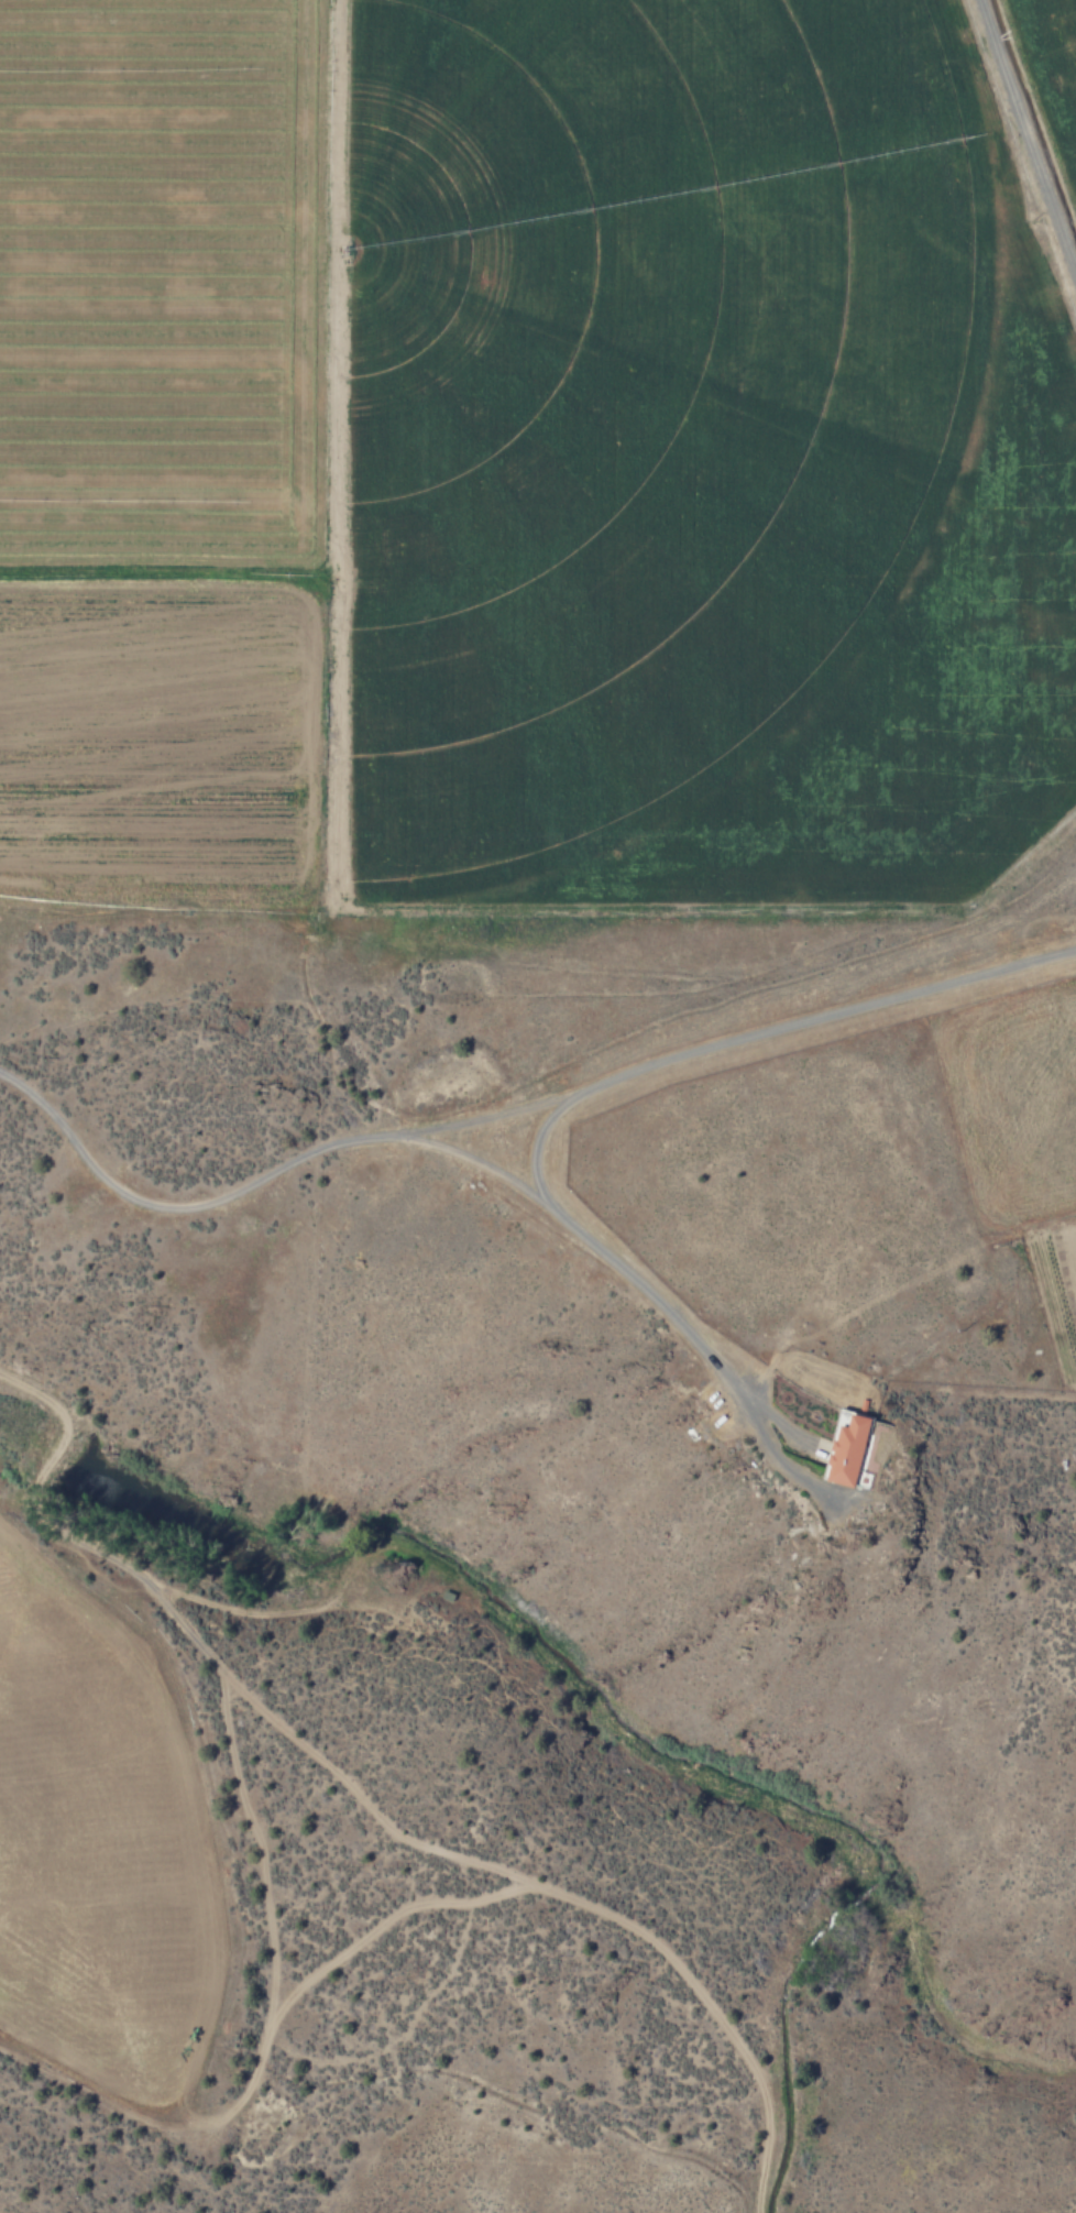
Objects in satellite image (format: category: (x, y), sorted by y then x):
road: (1030, 132)
road: (596, 1084)
building: (846, 1447)
road: (362, 1803)
crop: (523, 2191)

